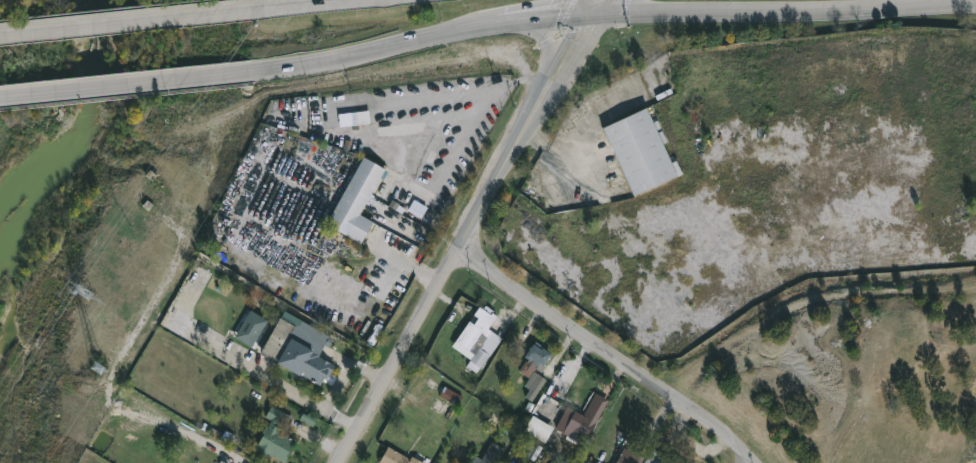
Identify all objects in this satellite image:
road: (333, 5)
road: (774, 16)
road: (190, 18)
road: (536, 24)
road: (51, 30)
road: (546, 38)
road: (561, 43)
road: (581, 48)
road: (379, 57)
road: (144, 85)
road: (16, 95)
road: (459, 95)
road: (468, 136)
building: (640, 152)
road: (562, 156)
building: (356, 202)
road: (397, 254)
road: (443, 277)
power tower: (86, 292)
building: (252, 329)
building: (481, 337)
building: (298, 348)
road: (609, 352)
building: (536, 357)
power tower: (99, 369)
road: (281, 384)
building: (535, 385)
building: (582, 419)
building: (546, 433)
building: (275, 436)
building: (491, 454)
building: (396, 457)
building: (641, 457)
building: (677, 460)

